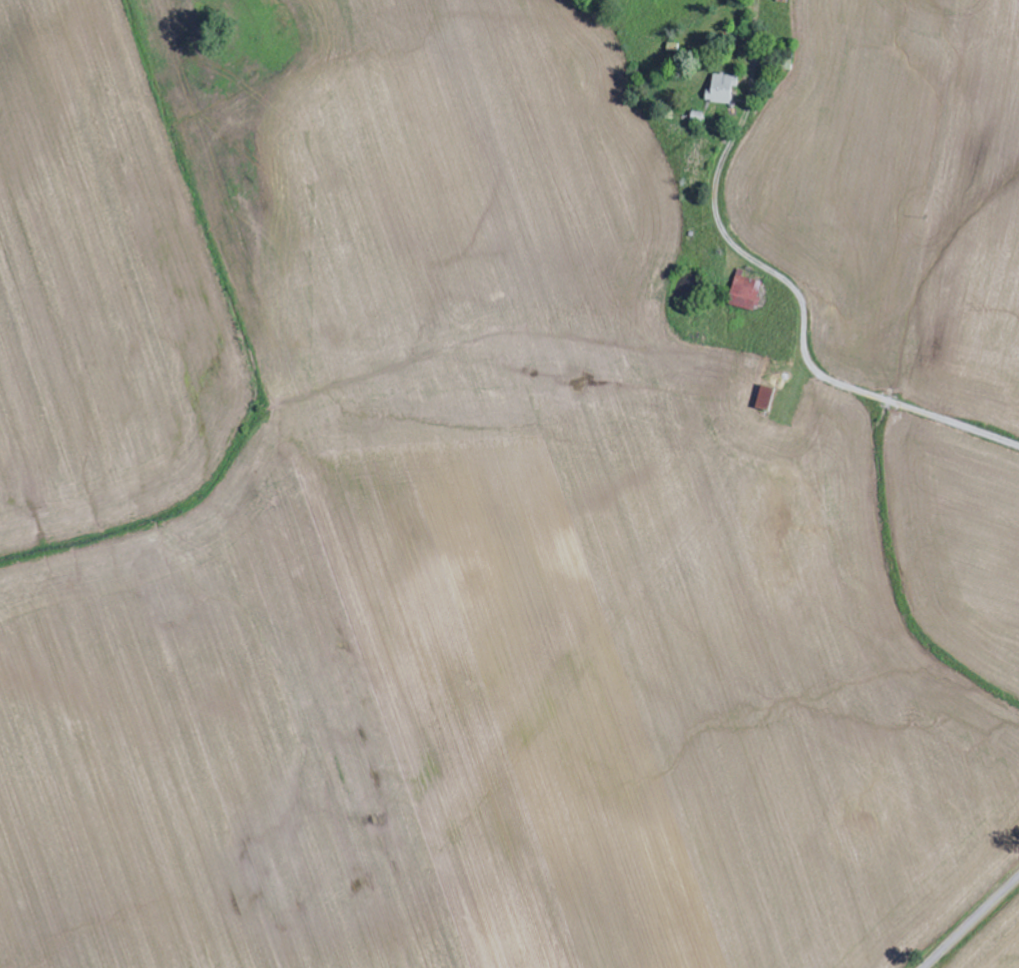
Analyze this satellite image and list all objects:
building: (723, 90)
road: (805, 317)
building: (767, 398)
road: (970, 922)

